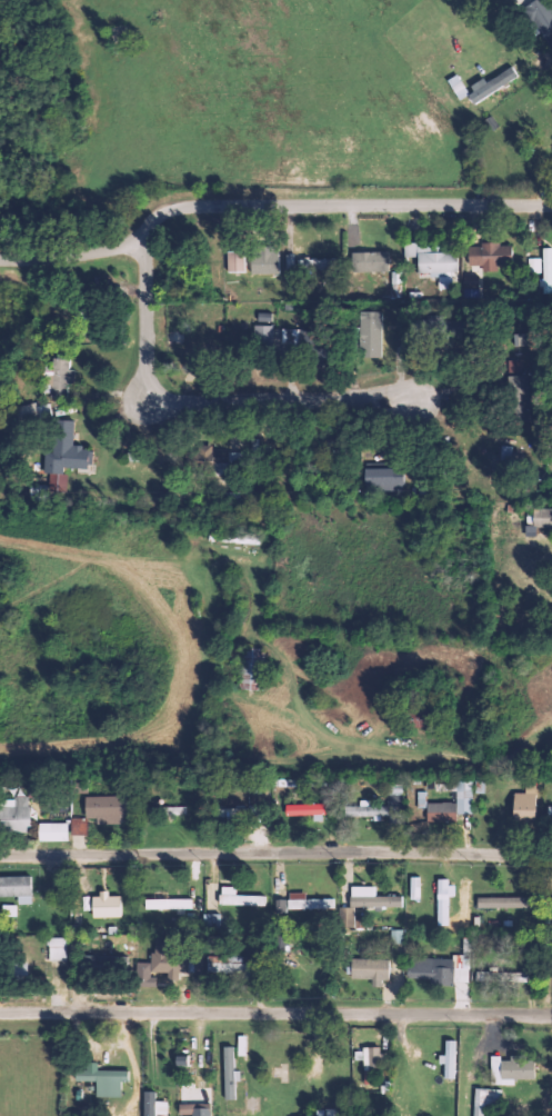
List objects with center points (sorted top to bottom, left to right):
building: (542, 18)
building: (491, 84)
road: (268, 202)
building: (488, 256)
building: (290, 261)
building: (370, 261)
building: (430, 261)
building: (317, 263)
building: (534, 265)
building: (546, 270)
building: (83, 320)
building: (370, 335)
building: (262, 336)
building: (520, 339)
building: (315, 352)
building: (58, 378)
building: (518, 392)
road: (214, 401)
building: (37, 411)
building: (67, 450)
building: (208, 455)
building: (382, 481)
building: (539, 518)
building: (252, 669)
building: (421, 799)
building: (454, 803)
building: (523, 806)
building: (174, 810)
building: (307, 810)
building: (365, 810)
building: (550, 811)
building: (14, 814)
building: (79, 826)
building: (52, 831)
road: (275, 861)
building: (414, 887)
building: (17, 888)
building: (240, 898)
building: (167, 901)
building: (367, 901)
building: (443, 901)
building: (503, 901)
building: (303, 903)
building: (106, 905)
building: (9, 910)
building: (58, 948)
building: (161, 961)
building: (229, 964)
building: (443, 967)
building: (370, 970)
building: (502, 976)
road: (275, 1018)
building: (371, 1058)
building: (449, 1058)
building: (512, 1068)
building: (229, 1073)
building: (106, 1082)
building: (484, 1099)
building: (251, 1104)
building: (153, 1105)
building: (194, 1109)

